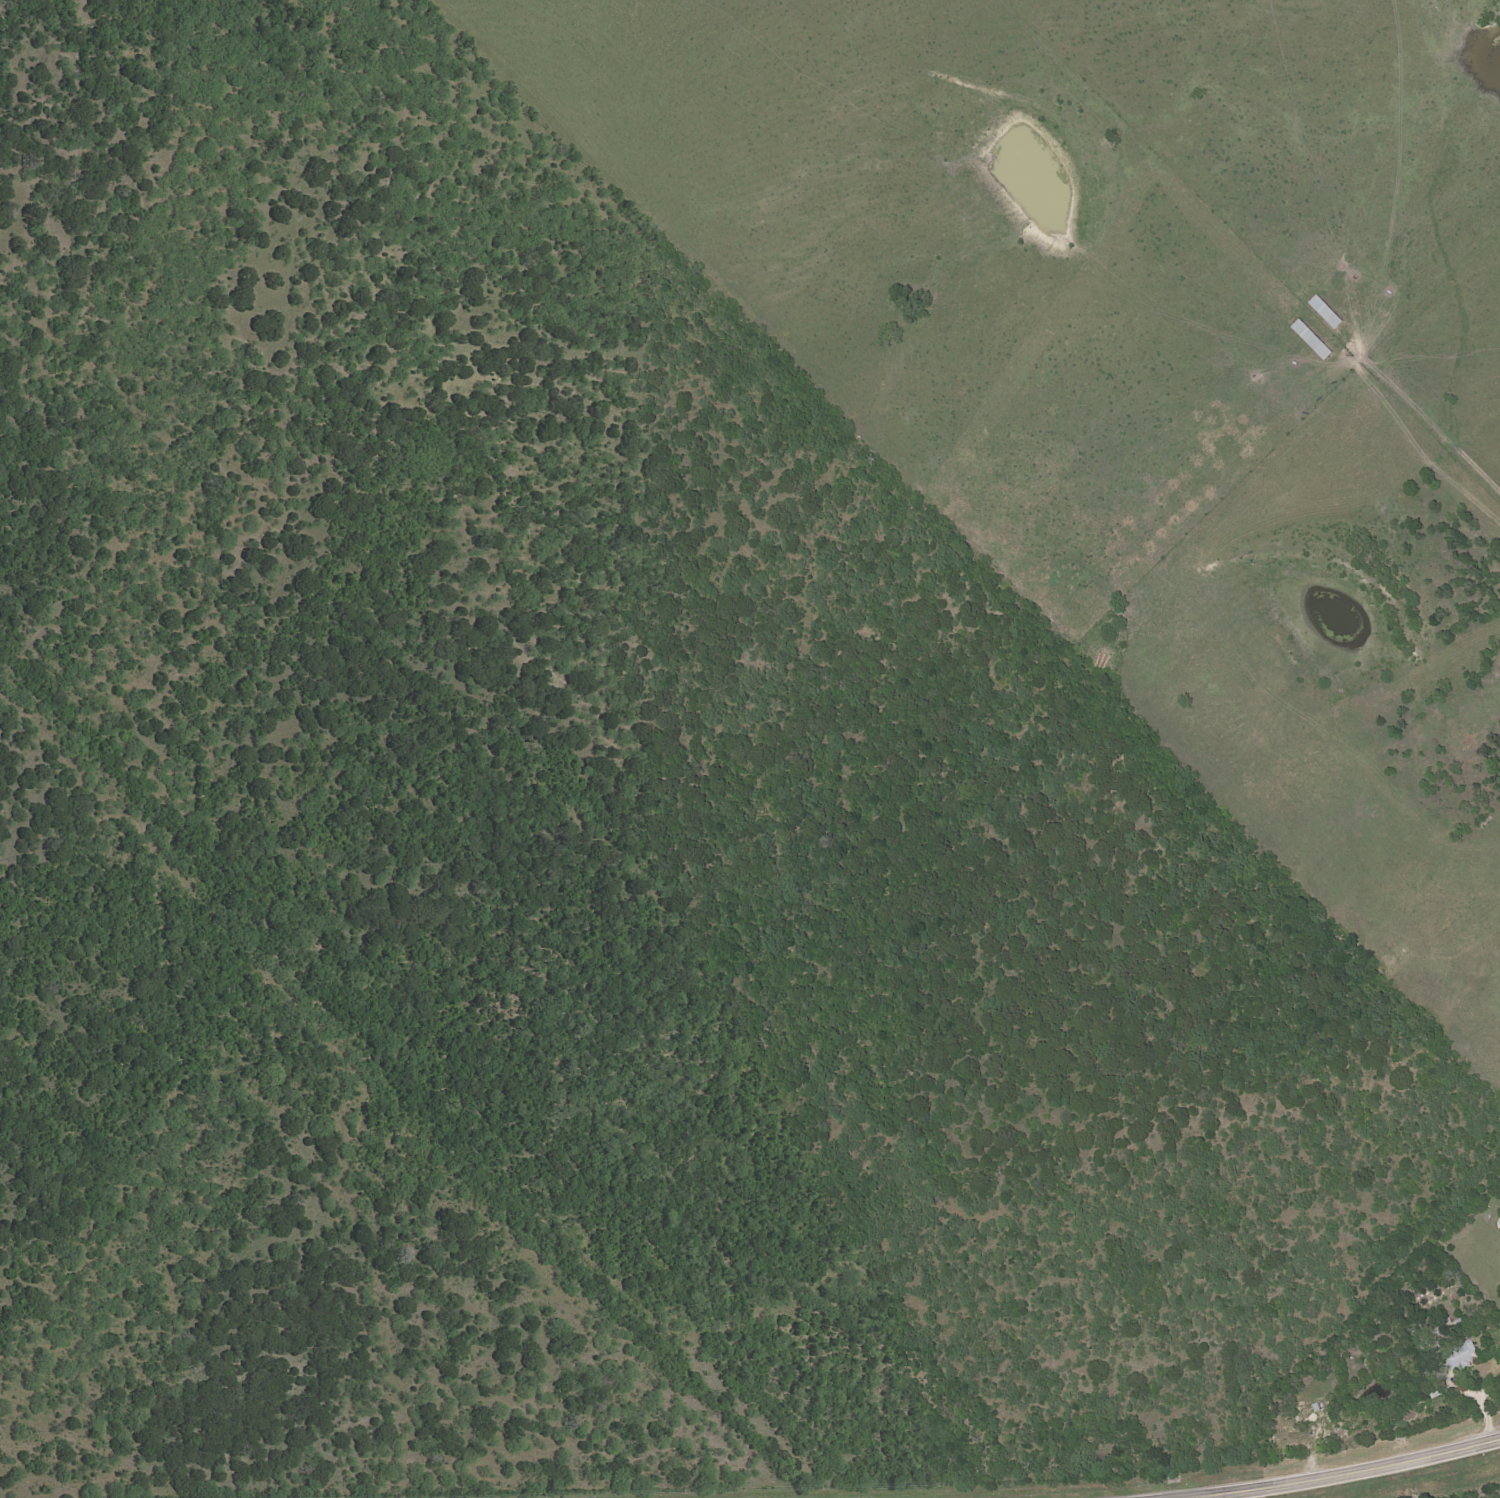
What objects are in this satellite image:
building: (1324, 312)
building: (1310, 339)
road: (1430, 432)
building: (1499, 1224)
building: (1462, 1355)
road: (1359, 1473)

